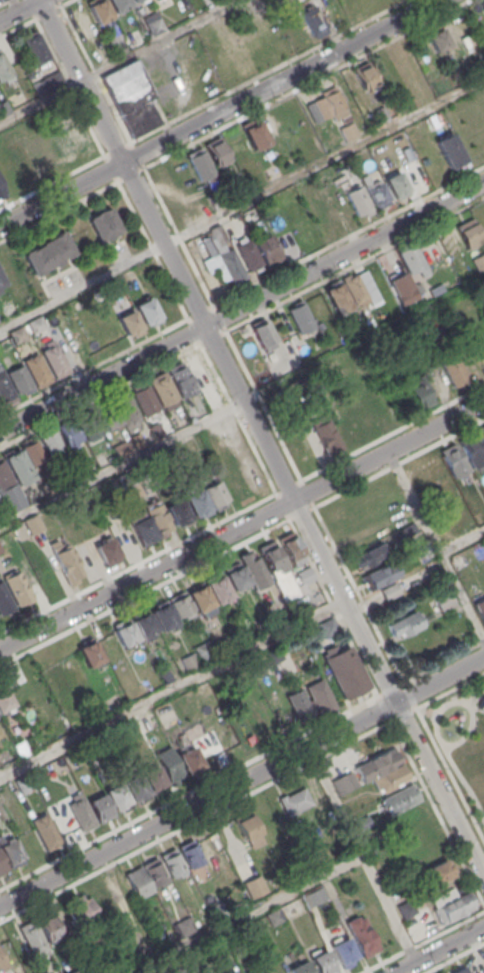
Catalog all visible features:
building: (0, 0)
building: (155, 0)
building: (134, 1)
building: (118, 4)
building: (482, 5)
building: (98, 9)
road: (20, 10)
building: (314, 21)
building: (155, 26)
building: (438, 38)
building: (33, 46)
building: (116, 46)
road: (117, 60)
building: (4, 69)
building: (365, 76)
building: (53, 80)
building: (131, 97)
building: (329, 104)
building: (3, 106)
road: (218, 113)
building: (381, 114)
building: (348, 130)
building: (255, 135)
building: (237, 146)
building: (449, 151)
building: (217, 152)
building: (199, 163)
building: (397, 185)
building: (0, 189)
building: (378, 194)
building: (357, 199)
building: (216, 200)
road: (242, 202)
building: (104, 223)
building: (309, 230)
building: (219, 234)
building: (468, 234)
building: (267, 247)
building: (48, 253)
building: (249, 255)
building: (479, 261)
building: (413, 262)
building: (233, 270)
building: (1, 282)
building: (355, 288)
building: (401, 288)
building: (337, 298)
road: (241, 306)
building: (146, 310)
building: (301, 317)
building: (129, 322)
building: (36, 324)
building: (427, 324)
building: (17, 334)
building: (263, 336)
road: (363, 339)
building: (5, 342)
building: (482, 350)
building: (55, 359)
building: (36, 369)
building: (199, 369)
building: (453, 369)
building: (19, 378)
building: (182, 379)
building: (5, 387)
building: (163, 389)
building: (419, 392)
building: (145, 399)
building: (126, 409)
building: (108, 417)
building: (90, 425)
building: (157, 430)
building: (481, 434)
building: (70, 435)
building: (326, 436)
road: (261, 438)
building: (137, 439)
building: (50, 442)
building: (122, 448)
building: (472, 450)
building: (32, 451)
building: (171, 457)
building: (454, 459)
road: (121, 463)
building: (17, 466)
building: (70, 472)
building: (134, 472)
building: (3, 476)
building: (419, 477)
building: (123, 478)
building: (216, 494)
building: (197, 503)
building: (178, 513)
building: (158, 518)
building: (34, 524)
road: (242, 525)
building: (143, 530)
road: (462, 540)
road: (436, 544)
building: (1, 549)
building: (292, 549)
building: (107, 551)
building: (369, 556)
building: (66, 562)
building: (276, 566)
building: (254, 569)
building: (305, 575)
building: (381, 575)
building: (236, 578)
building: (19, 588)
building: (218, 589)
building: (390, 591)
building: (200, 598)
building: (444, 600)
building: (4, 601)
building: (179, 604)
building: (480, 607)
building: (163, 616)
building: (144, 624)
building: (404, 624)
building: (328, 627)
building: (126, 633)
building: (240, 635)
building: (221, 645)
building: (204, 652)
building: (90, 653)
building: (274, 655)
building: (189, 662)
building: (54, 672)
building: (346, 672)
building: (164, 674)
road: (172, 688)
building: (4, 698)
building: (311, 700)
road: (459, 701)
building: (482, 704)
road: (475, 707)
road: (428, 710)
road: (469, 731)
park: (462, 739)
building: (20, 748)
building: (5, 756)
building: (190, 761)
building: (169, 764)
building: (377, 764)
road: (454, 767)
building: (153, 778)
building: (391, 779)
road: (242, 781)
building: (344, 782)
building: (21, 784)
building: (135, 786)
building: (116, 796)
building: (400, 798)
building: (294, 801)
road: (335, 801)
building: (100, 808)
building: (81, 813)
building: (362, 822)
building: (63, 823)
building: (44, 831)
building: (250, 831)
building: (10, 853)
building: (189, 853)
building: (172, 863)
building: (2, 865)
building: (154, 872)
building: (438, 873)
building: (137, 880)
building: (255, 886)
road: (298, 887)
building: (314, 896)
building: (103, 901)
building: (454, 907)
building: (79, 911)
building: (274, 916)
building: (49, 928)
building: (185, 929)
building: (363, 935)
building: (32, 937)
building: (12, 944)
road: (439, 950)
building: (344, 951)
building: (1, 959)
building: (323, 963)
building: (301, 968)
building: (461, 970)
building: (259, 971)

